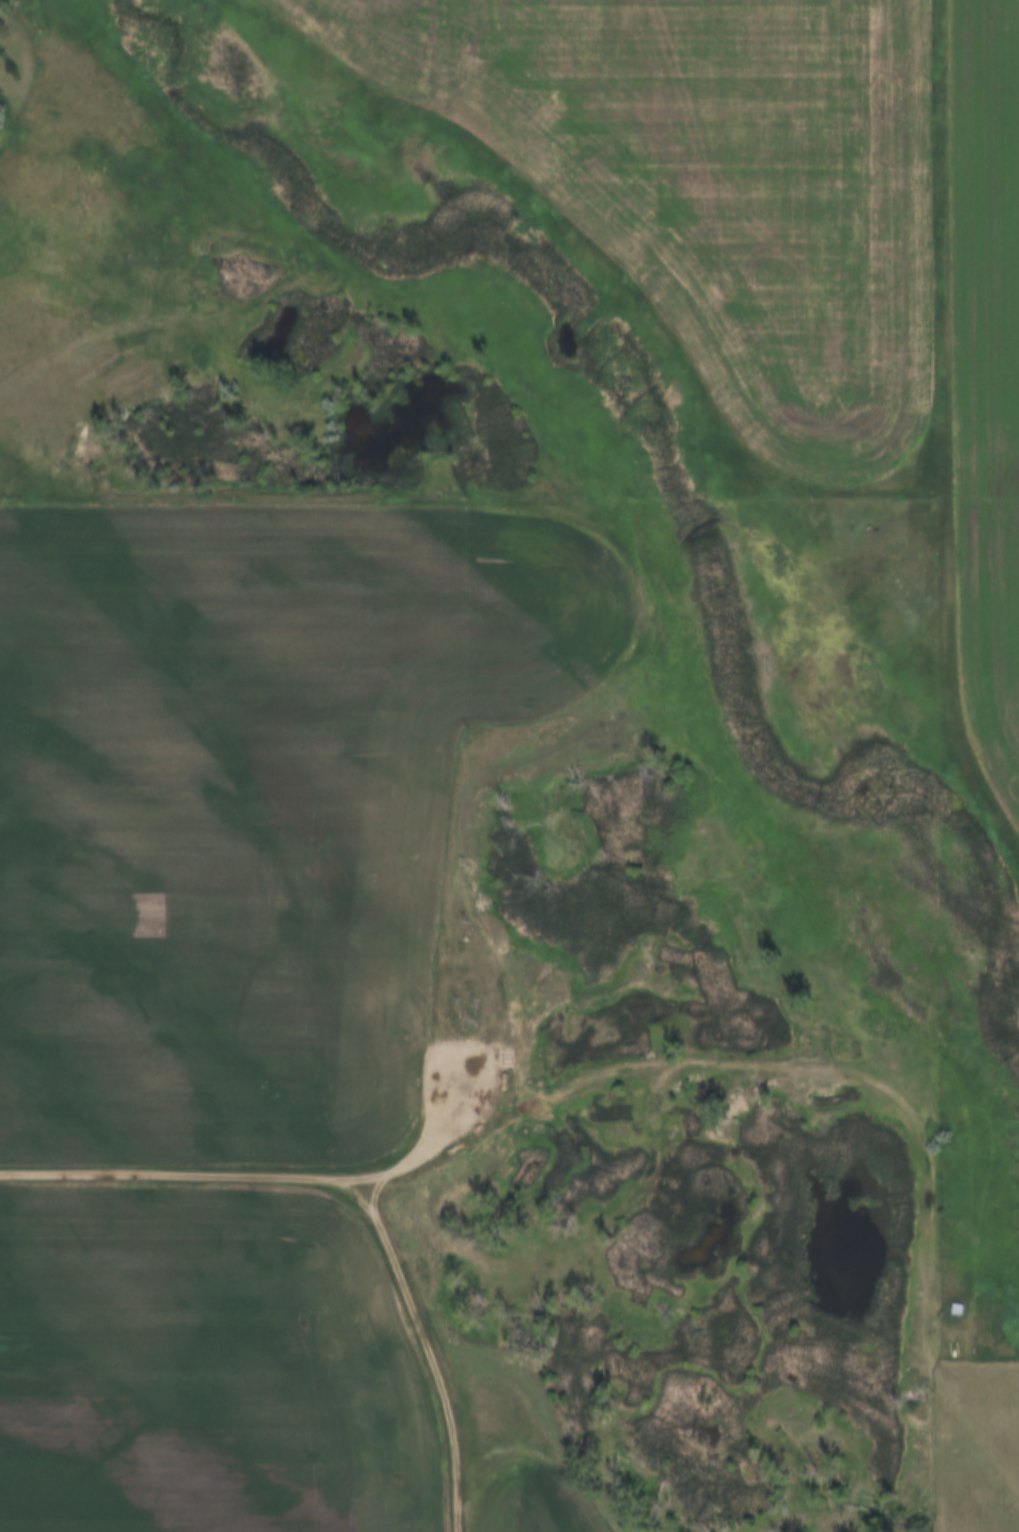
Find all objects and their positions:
road: (888, 1090)
road: (436, 1150)
road: (167, 1174)
building: (941, 1297)
building: (953, 1308)
road: (425, 1343)
building: (905, 1518)

